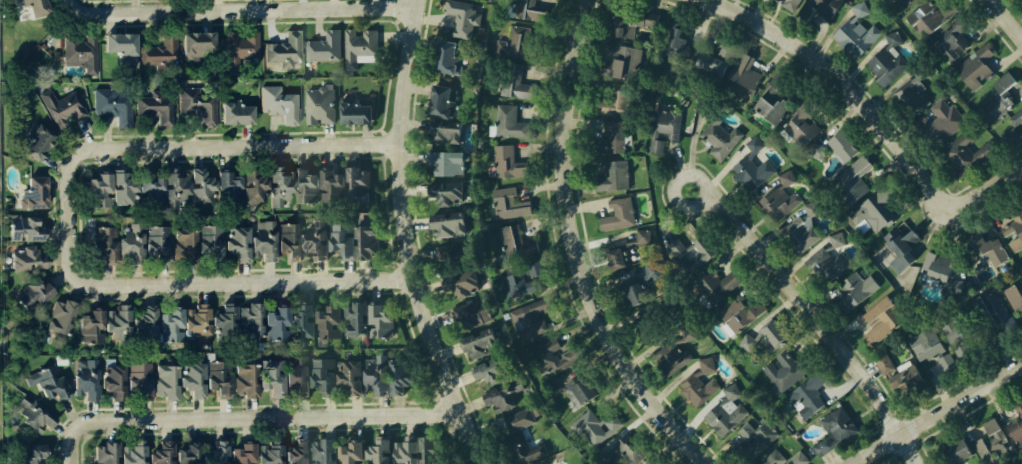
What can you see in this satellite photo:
building: (790, 3)
building: (898, 3)
building: (30, 6)
building: (826, 7)
road: (248, 9)
building: (861, 9)
building: (529, 10)
building: (463, 16)
road: (1007, 16)
building: (927, 17)
building: (622, 24)
building: (856, 32)
building: (666, 37)
building: (892, 38)
building: (948, 42)
building: (520, 44)
building: (195, 45)
building: (117, 46)
building: (236, 47)
building: (323, 47)
building: (358, 47)
building: (158, 50)
building: (280, 50)
building: (676, 50)
building: (79, 51)
building: (445, 58)
building: (708, 58)
building: (621, 62)
building: (883, 68)
building: (973, 71)
building: (740, 72)
building: (511, 82)
building: (911, 93)
building: (997, 99)
building: (612, 100)
building: (438, 101)
building: (110, 102)
building: (769, 102)
building: (277, 103)
building: (196, 104)
building: (319, 105)
building: (59, 107)
building: (153, 109)
road: (873, 110)
building: (231, 111)
building: (351, 111)
building: (1016, 119)
building: (942, 120)
building: (512, 124)
building: (800, 125)
building: (662, 130)
building: (441, 131)
building: (1016, 131)
building: (610, 137)
building: (1012, 137)
building: (720, 138)
building: (33, 141)
road: (257, 145)
building: (843, 145)
building: (818, 151)
building: (961, 155)
building: (443, 163)
building: (508, 163)
building: (752, 168)
building: (611, 178)
building: (196, 183)
building: (327, 184)
building: (355, 184)
building: (301, 185)
building: (118, 186)
building: (223, 186)
building: (249, 187)
building: (274, 187)
building: (852, 187)
building: (145, 188)
building: (93, 189)
building: (170, 189)
building: (31, 192)
building: (442, 192)
building: (779, 199)
building: (510, 204)
road: (689, 206)
building: (879, 213)
building: (610, 215)
building: (445, 223)
building: (22, 226)
building: (1013, 227)
building: (802, 229)
road: (407, 237)
building: (364, 238)
building: (338, 239)
building: (260, 240)
building: (206, 241)
building: (287, 241)
building: (128, 242)
building: (154, 242)
building: (234, 242)
building: (518, 242)
building: (99, 243)
building: (314, 243)
building: (180, 244)
building: (901, 245)
building: (982, 248)
road: (580, 250)
building: (450, 254)
building: (687, 254)
building: (616, 255)
building: (21, 258)
building: (827, 259)
building: (934, 267)
building: (653, 271)
building: (518, 280)
road: (166, 282)
building: (460, 282)
building: (956, 286)
building: (714, 287)
building: (856, 288)
building: (28, 294)
building: (629, 295)
building: (1015, 297)
building: (470, 311)
building: (980, 311)
building: (58, 317)
building: (737, 317)
building: (352, 318)
building: (532, 318)
building: (379, 319)
building: (885, 319)
building: (300, 320)
building: (327, 320)
building: (220, 322)
building: (245, 322)
building: (271, 322)
road: (822, 323)
building: (114, 324)
building: (141, 324)
building: (194, 324)
building: (167, 325)
building: (650, 327)
building: (88, 328)
building: (956, 332)
building: (688, 334)
building: (765, 336)
building: (479, 341)
building: (757, 345)
building: (928, 348)
building: (552, 358)
building: (669, 360)
building: (707, 365)
building: (491, 368)
building: (779, 371)
building: (397, 373)
building: (373, 374)
building: (295, 375)
building: (321, 375)
building: (898, 375)
building: (268, 376)
building: (348, 376)
building: (83, 377)
building: (216, 377)
building: (187, 379)
building: (241, 379)
building: (47, 380)
building: (110, 380)
building: (135, 380)
building: (161, 381)
building: (697, 387)
building: (570, 391)
building: (503, 395)
building: (808, 397)
building: (30, 412)
road: (937, 414)
road: (292, 416)
building: (723, 419)
building: (513, 422)
road: (89, 423)
building: (840, 424)
building: (593, 426)
building: (1012, 431)
building: (993, 444)
building: (750, 447)
building: (820, 447)
building: (517, 448)
building: (956, 449)
building: (412, 450)
building: (102, 451)
building: (130, 451)
building: (158, 451)
building: (294, 451)
building: (321, 451)
building: (375, 451)
building: (621, 451)
building: (23, 452)
building: (184, 452)
building: (212, 452)
building: (267, 452)
building: (347, 452)
building: (239, 453)
park: (561, 457)
building: (783, 459)
building: (652, 463)

